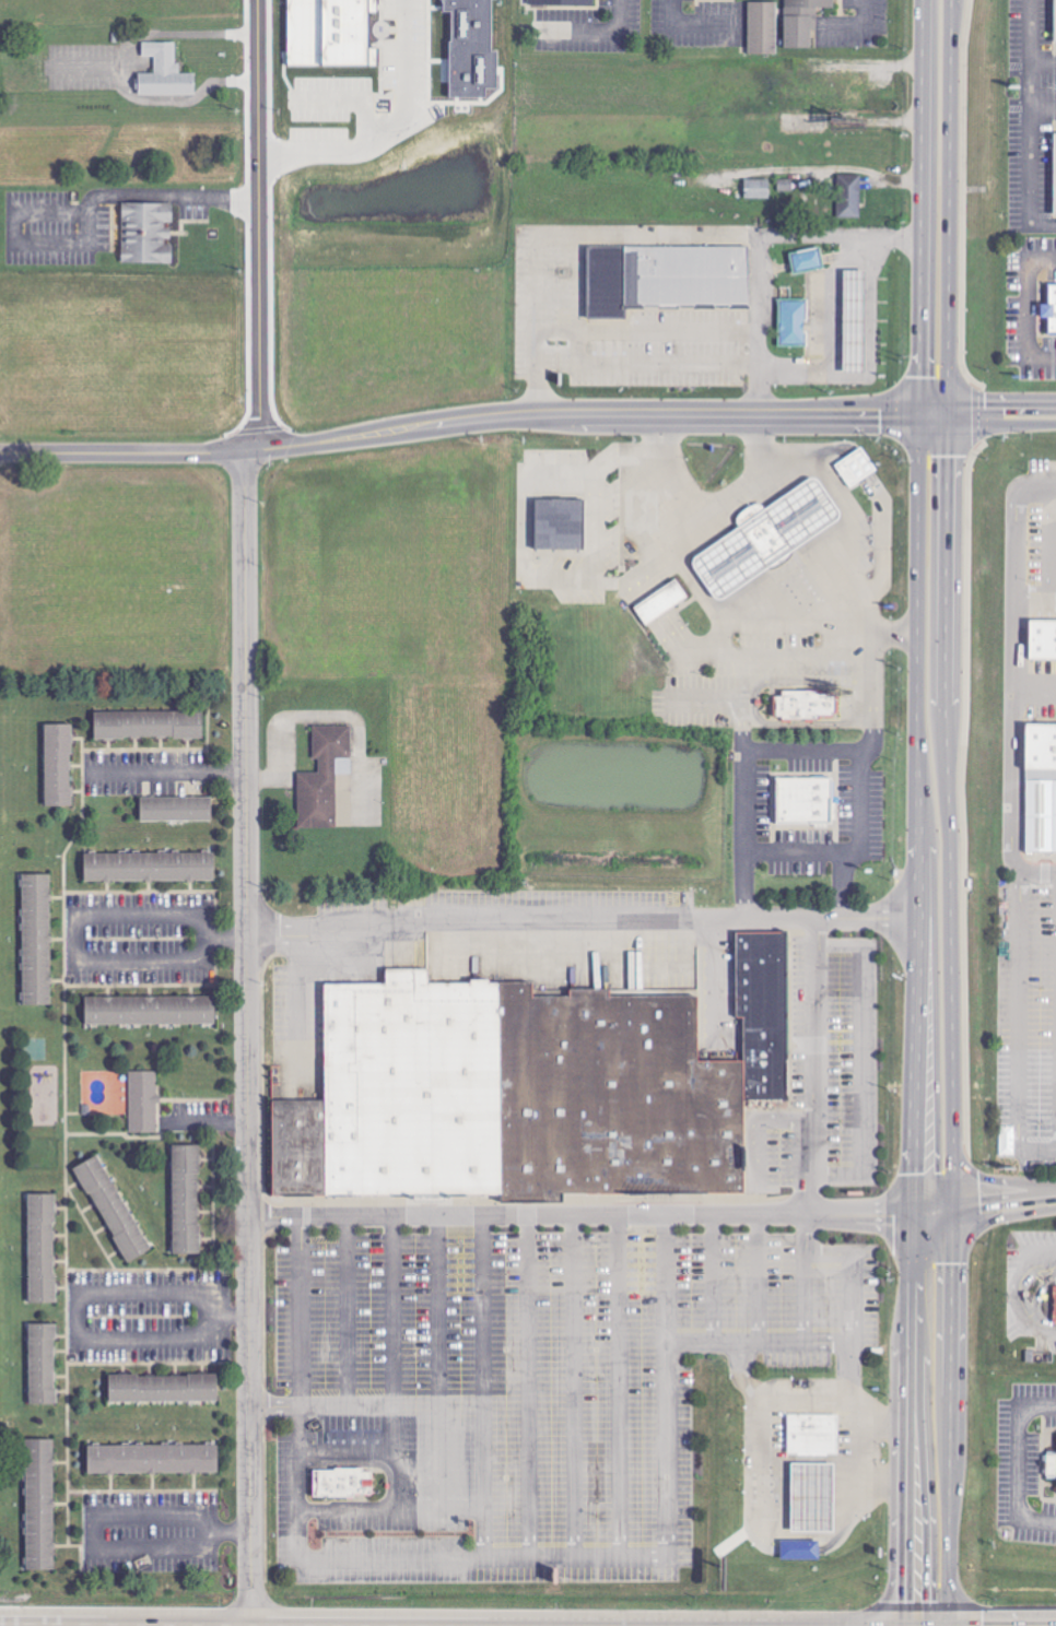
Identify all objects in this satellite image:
building: (561, 2)
building: (802, 21)
building: (1055, 21)
road: (847, 22)
road: (699, 24)
building: (763, 27)
road: (598, 30)
building: (330, 33)
building: (471, 48)
road: (1041, 60)
building: (165, 72)
road: (1041, 106)
road: (1026, 125)
road: (386, 133)
building: (1052, 170)
building: (758, 188)
road: (148, 196)
building: (849, 196)
road: (920, 205)
road: (948, 207)
road: (249, 225)
building: (148, 233)
building: (807, 259)
building: (665, 276)
road: (1025, 306)
building: (1047, 307)
road: (837, 309)
building: (855, 318)
building: (793, 321)
road: (648, 330)
road: (1000, 404)
traffic signals: (918, 412)
road: (931, 412)
traffic signals: (947, 413)
road: (458, 423)
road: (1000, 423)
building: (855, 467)
road: (717, 503)
building: (560, 525)
building: (766, 535)
road: (852, 544)
road: (1044, 556)
building: (661, 601)
road: (727, 620)
building: (1040, 638)
road: (1010, 663)
road: (816, 679)
building: (805, 704)
building: (149, 723)
road: (272, 730)
building: (1039, 743)
road: (860, 747)
building: (59, 764)
road: (741, 764)
road: (168, 770)
building: (321, 775)
building: (807, 800)
building: (175, 808)
building: (1040, 814)
road: (789, 850)
building: (150, 865)
road: (1037, 869)
road: (583, 928)
building: (36, 938)
road: (77, 953)
building: (150, 1009)
building: (764, 1016)
road: (919, 1018)
road: (950, 1018)
parking lot: (1026, 1022)
road: (1021, 1029)
road: (247, 1039)
road: (869, 1069)
building: (523, 1091)
building: (142, 1100)
building: (45, 1104)
road: (208, 1122)
road: (811, 1135)
road: (765, 1136)
building: (301, 1146)
building: (187, 1198)
building: (112, 1207)
road: (653, 1215)
building: (43, 1247)
road: (719, 1282)
road: (763, 1282)
road: (77, 1294)
building: (1053, 1303)
road: (350, 1316)
parking lot: (572, 1348)
road: (762, 1350)
building: (43, 1363)
road: (398, 1367)
road: (442, 1367)
road: (854, 1367)
building: (164, 1387)
road: (535, 1390)
road: (579, 1390)
road: (624, 1390)
road: (488, 1391)
road: (809, 1403)
road: (322, 1413)
building: (813, 1434)
building: (154, 1459)
road: (350, 1461)
road: (1013, 1463)
building: (1055, 1469)
building: (340, 1483)
building: (814, 1497)
gas station: (814, 1497)
building: (40, 1504)
road: (394, 1518)
road: (763, 1522)
road: (99, 1546)
building: (800, 1550)
road: (485, 1566)
traffic signals: (906, 1595)

